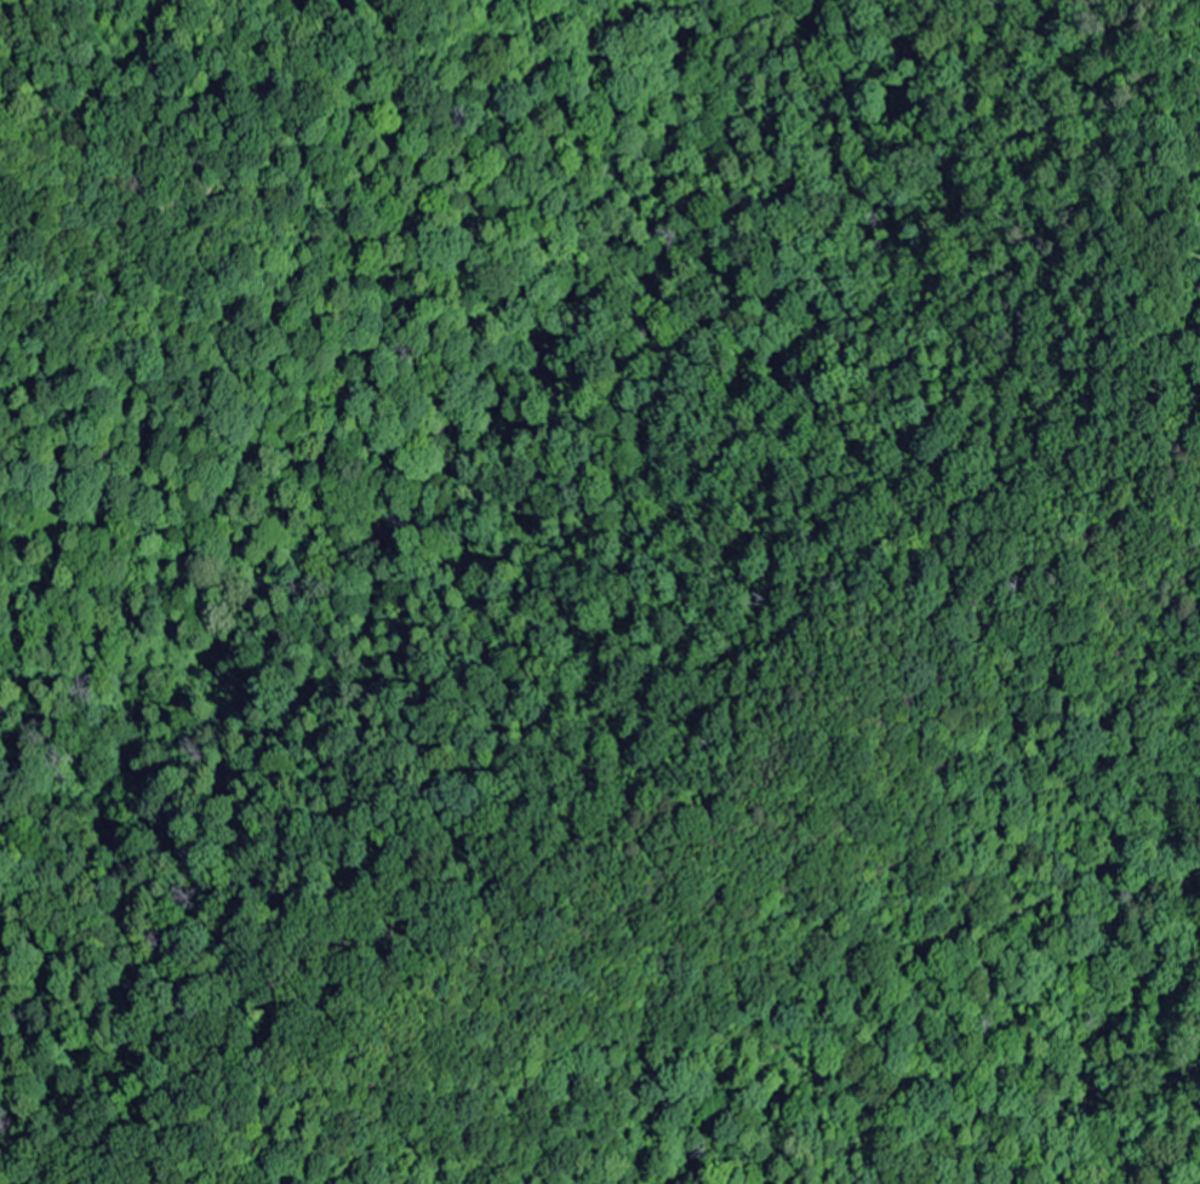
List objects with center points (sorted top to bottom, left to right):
road: (862, 1093)

